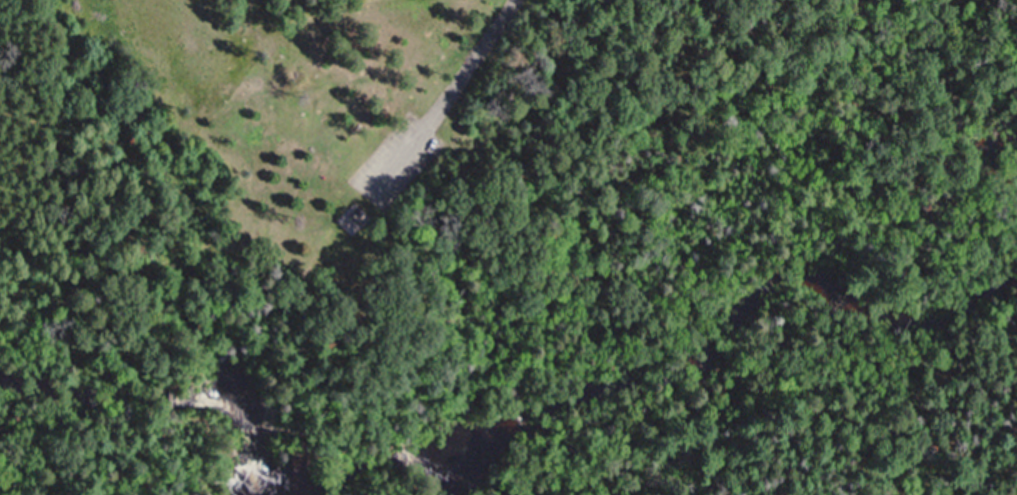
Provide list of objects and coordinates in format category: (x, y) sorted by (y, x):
road: (438, 99)
river: (991, 154)
parking lot: (391, 165)
park: (508, 247)
river: (501, 426)

